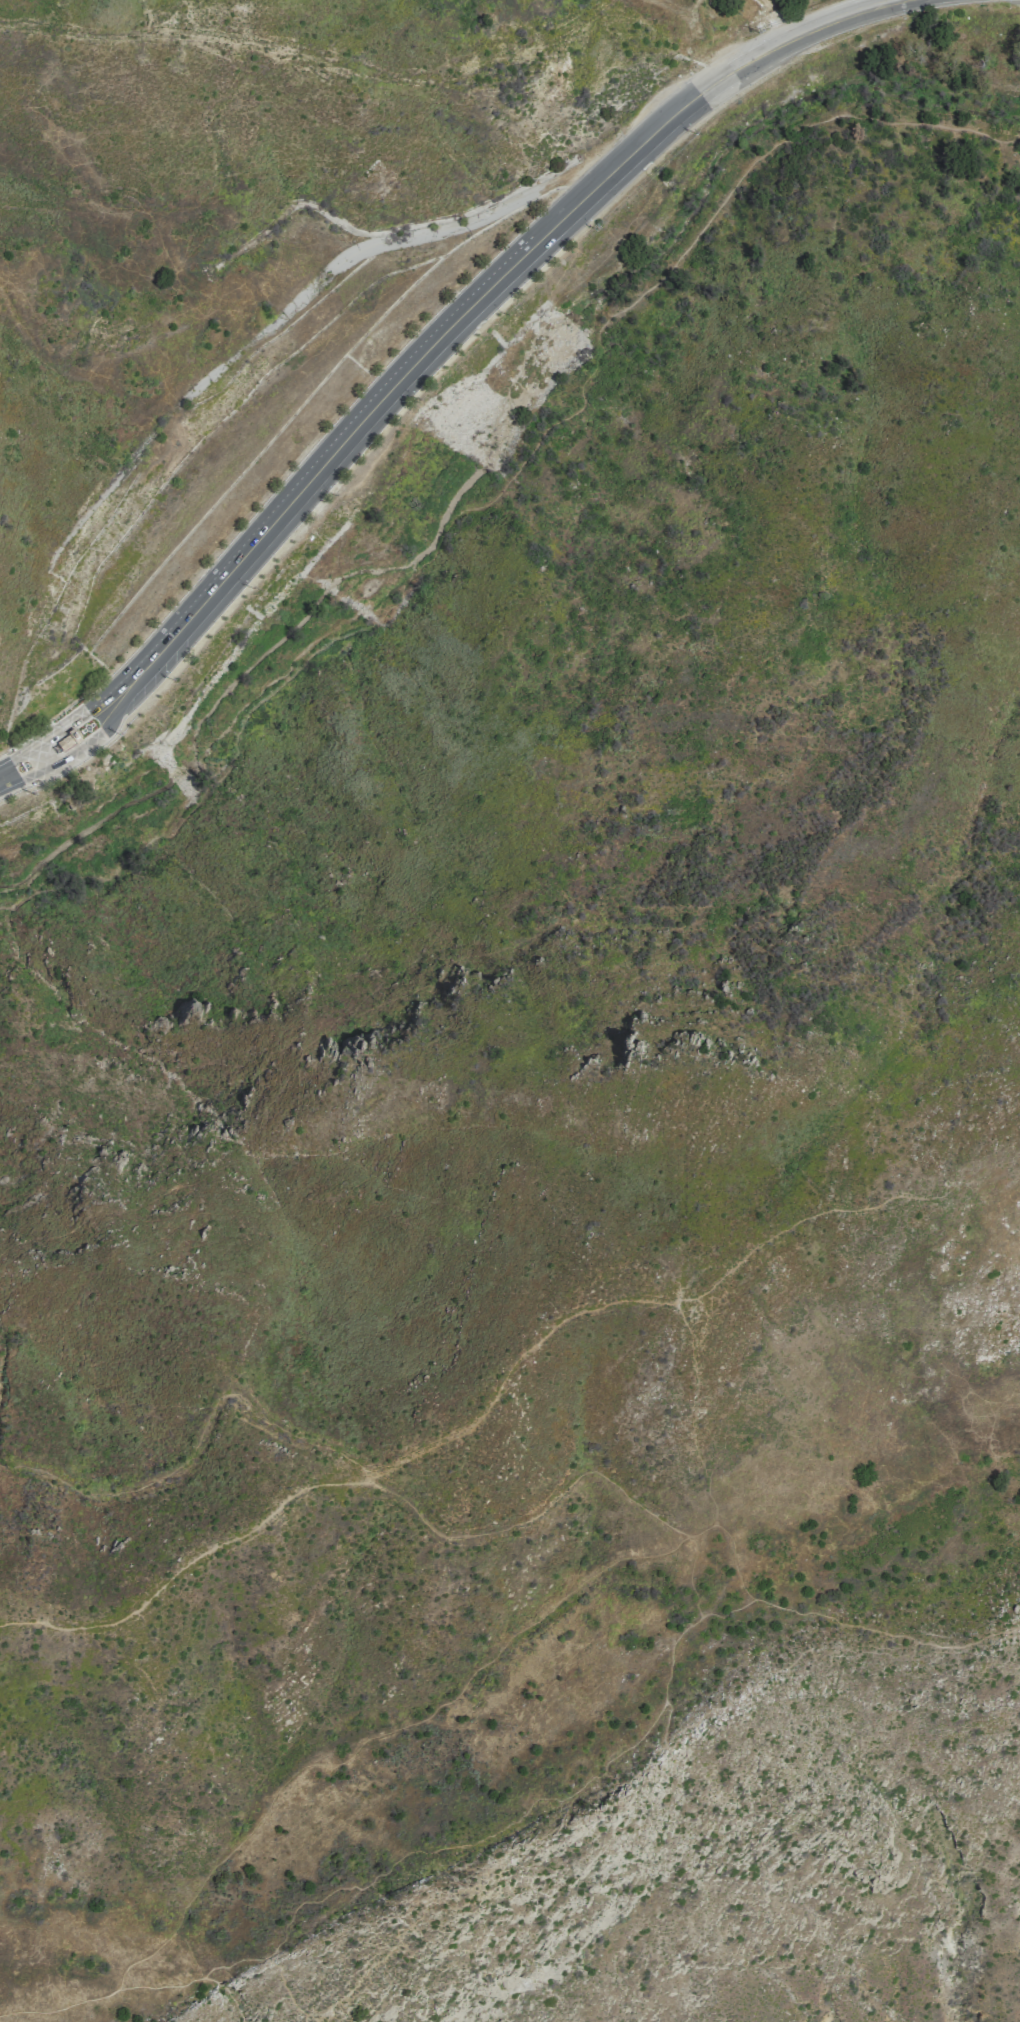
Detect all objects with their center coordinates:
road: (706, 38)
road: (780, 43)
road: (418, 222)
road: (404, 374)
road: (497, 496)
road: (108, 693)
road: (90, 738)
road: (31, 747)
road: (621, 1301)
road: (198, 1445)
road: (188, 1567)
road: (690, 1576)
road: (830, 1616)
road: (672, 1646)
road: (483, 1666)
road: (396, 1859)
road: (204, 1975)

